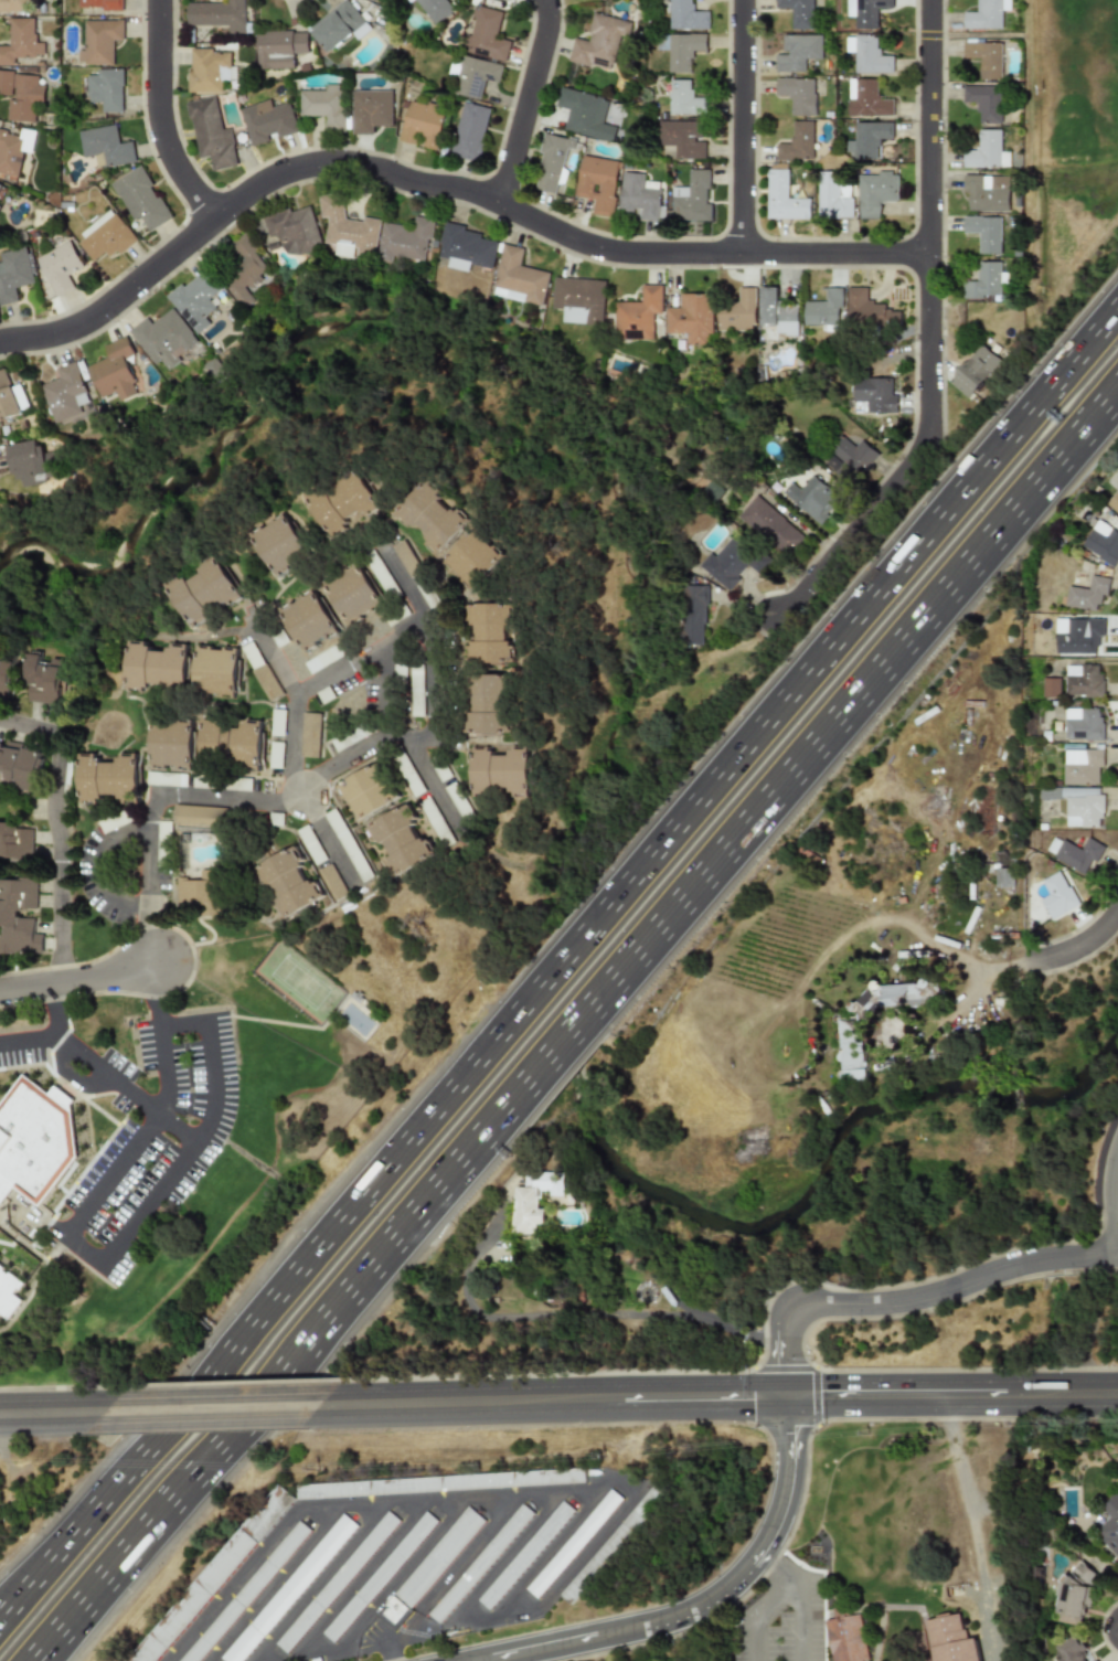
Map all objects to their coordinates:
building: (370, 0)
building: (14, 6)
building: (99, 6)
building: (436, 9)
building: (870, 12)
building: (217, 13)
building: (799, 13)
building: (987, 13)
building: (685, 15)
building: (339, 25)
building: (486, 33)
building: (19, 40)
building: (99, 41)
building: (598, 41)
building: (279, 47)
building: (681, 51)
building: (798, 53)
building: (870, 55)
building: (984, 56)
park: (1082, 60)
building: (209, 70)
building: (476, 76)
building: (104, 88)
building: (20, 94)
building: (797, 94)
building: (681, 96)
building: (867, 99)
road: (530, 103)
building: (984, 103)
building: (323, 106)
building: (370, 109)
building: (585, 115)
road: (161, 116)
building: (268, 121)
building: (422, 124)
road: (746, 127)
building: (471, 131)
building: (211, 134)
building: (866, 138)
building: (679, 140)
building: (798, 141)
building: (106, 146)
building: (987, 150)
building: (12, 151)
building: (552, 161)
building: (598, 183)
building: (1, 188)
road: (440, 188)
building: (876, 192)
building: (986, 192)
building: (831, 196)
building: (141, 198)
building: (641, 198)
building: (692, 198)
building: (782, 198)
building: (348, 228)
building: (295, 230)
building: (983, 233)
building: (107, 236)
building: (407, 241)
building: (467, 247)
building: (60, 266)
building: (244, 271)
building: (14, 273)
building: (519, 278)
building: (986, 280)
building: (194, 300)
building: (578, 300)
building: (866, 308)
building: (777, 310)
building: (738, 312)
building: (823, 312)
building: (638, 315)
building: (691, 318)
road: (929, 337)
building: (163, 339)
building: (115, 371)
building: (973, 372)
building: (65, 393)
building: (873, 395)
building: (7, 397)
building: (848, 457)
building: (24, 458)
building: (811, 498)
building: (1114, 502)
building: (358, 507)
building: (444, 523)
building: (769, 525)
building: (1101, 543)
building: (289, 546)
building: (415, 558)
building: (732, 562)
building: (487, 564)
building: (386, 574)
building: (1086, 594)
building: (210, 595)
building: (362, 595)
building: (694, 615)
building: (315, 624)
building: (1076, 635)
building: (499, 638)
road: (432, 648)
road: (361, 653)
building: (322, 659)
building: (161, 670)
building: (259, 671)
building: (219, 672)
building: (6, 677)
building: (1082, 680)
building: (42, 681)
building: (1050, 686)
building: (418, 690)
road: (295, 702)
building: (497, 709)
building: (277, 723)
building: (1082, 724)
building: (310, 735)
building: (353, 736)
road: (380, 736)
road: (395, 739)
building: (177, 745)
building: (236, 748)
building: (1080, 766)
building: (19, 767)
building: (438, 770)
building: (406, 774)
building: (507, 775)
building: (166, 779)
road: (432, 780)
building: (113, 781)
building: (369, 794)
building: (458, 800)
road: (151, 808)
building: (1082, 809)
building: (198, 816)
building: (114, 821)
building: (434, 822)
road: (58, 831)
building: (163, 833)
road: (326, 837)
building: (17, 841)
building: (309, 844)
building: (348, 845)
building: (403, 845)
building: (1074, 853)
road: (95, 871)
building: (331, 883)
building: (292, 884)
road: (625, 885)
building: (205, 888)
building: (1056, 895)
building: (19, 915)
road: (1077, 948)
road: (959, 962)
road: (77, 979)
road: (157, 997)
road: (55, 1009)
road: (579, 1028)
road: (29, 1036)
building: (850, 1036)
road: (68, 1076)
road: (127, 1088)
road: (202, 1136)
road: (139, 1140)
building: (34, 1148)
building: (533, 1200)
road: (1117, 1203)
road: (82, 1252)
building: (10, 1296)
road: (914, 1299)
traffic signals: (789, 1360)
traffic signals: (830, 1395)
road: (720, 1396)
traffic signals: (756, 1396)
road: (216, 1407)
road: (54, 1412)
traffic signals: (790, 1434)
building: (438, 1481)
road: (345, 1504)
road: (64, 1525)
road: (970, 1526)
building: (1109, 1526)
road: (65, 1542)
building: (573, 1542)
building: (613, 1542)
building: (525, 1554)
building: (481, 1562)
road: (779, 1562)
building: (432, 1564)
road: (450, 1572)
building: (379, 1573)
road: (401, 1573)
building: (337, 1578)
building: (211, 1579)
road: (352, 1580)
road: (318, 1582)
road: (481, 1582)
road: (269, 1583)
building: (289, 1587)
building: (245, 1590)
building: (1073, 1595)
road: (715, 1600)
road: (540, 1607)
road: (758, 1610)
road: (795, 1616)
parking lot: (780, 1621)
road: (395, 1631)
building: (845, 1637)
building: (950, 1639)
road: (348, 1647)
building: (1071, 1650)
building: (1093, 1660)

